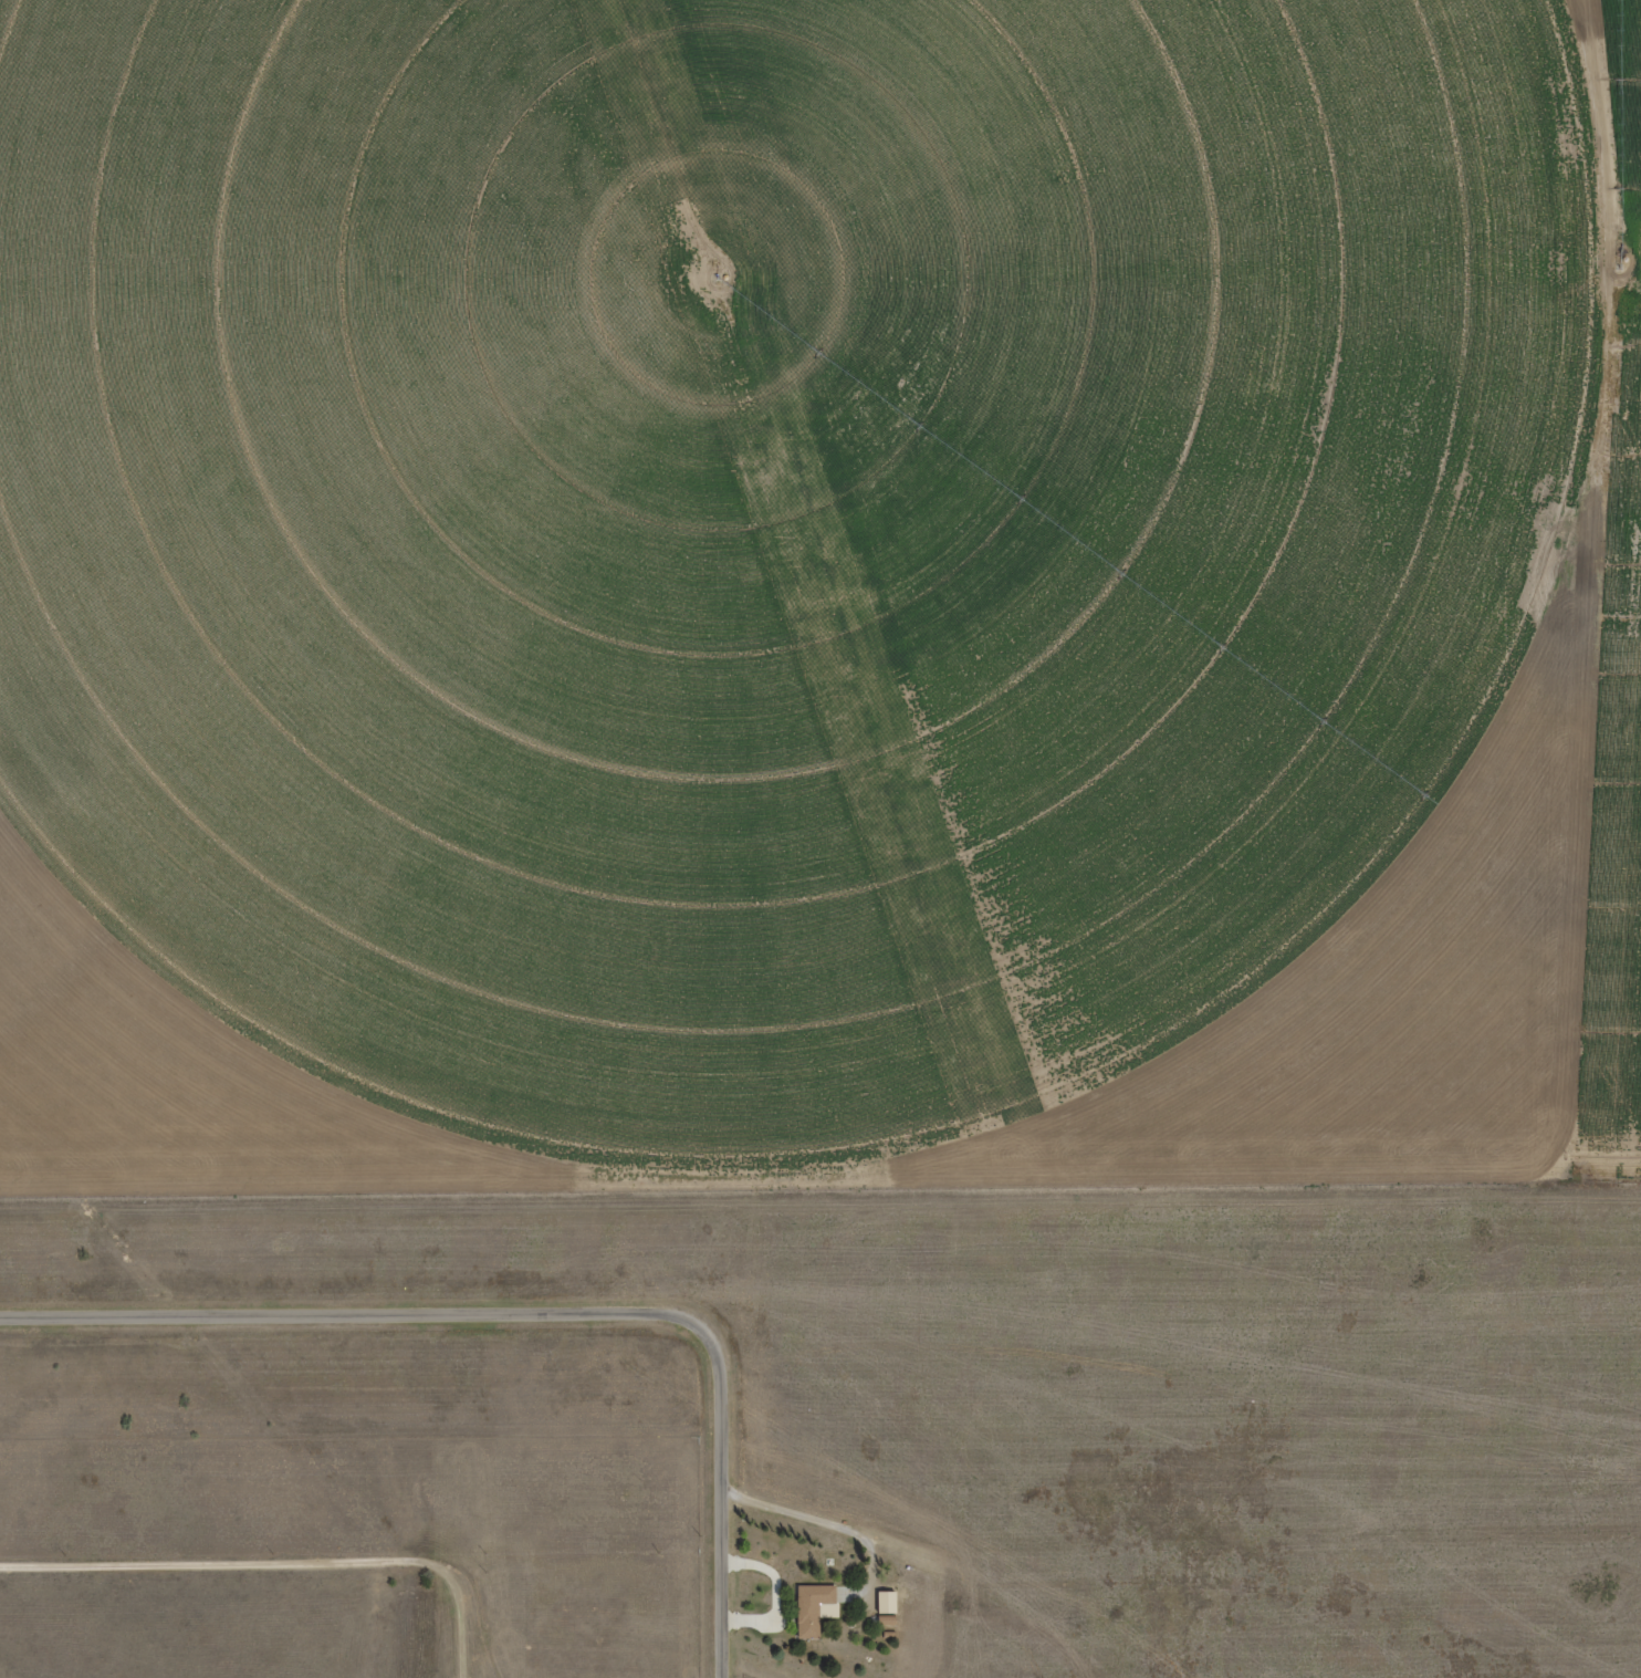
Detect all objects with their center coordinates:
road: (530, 1317)
road: (278, 1561)
building: (882, 1602)
building: (808, 1607)
park: (741, 1676)

